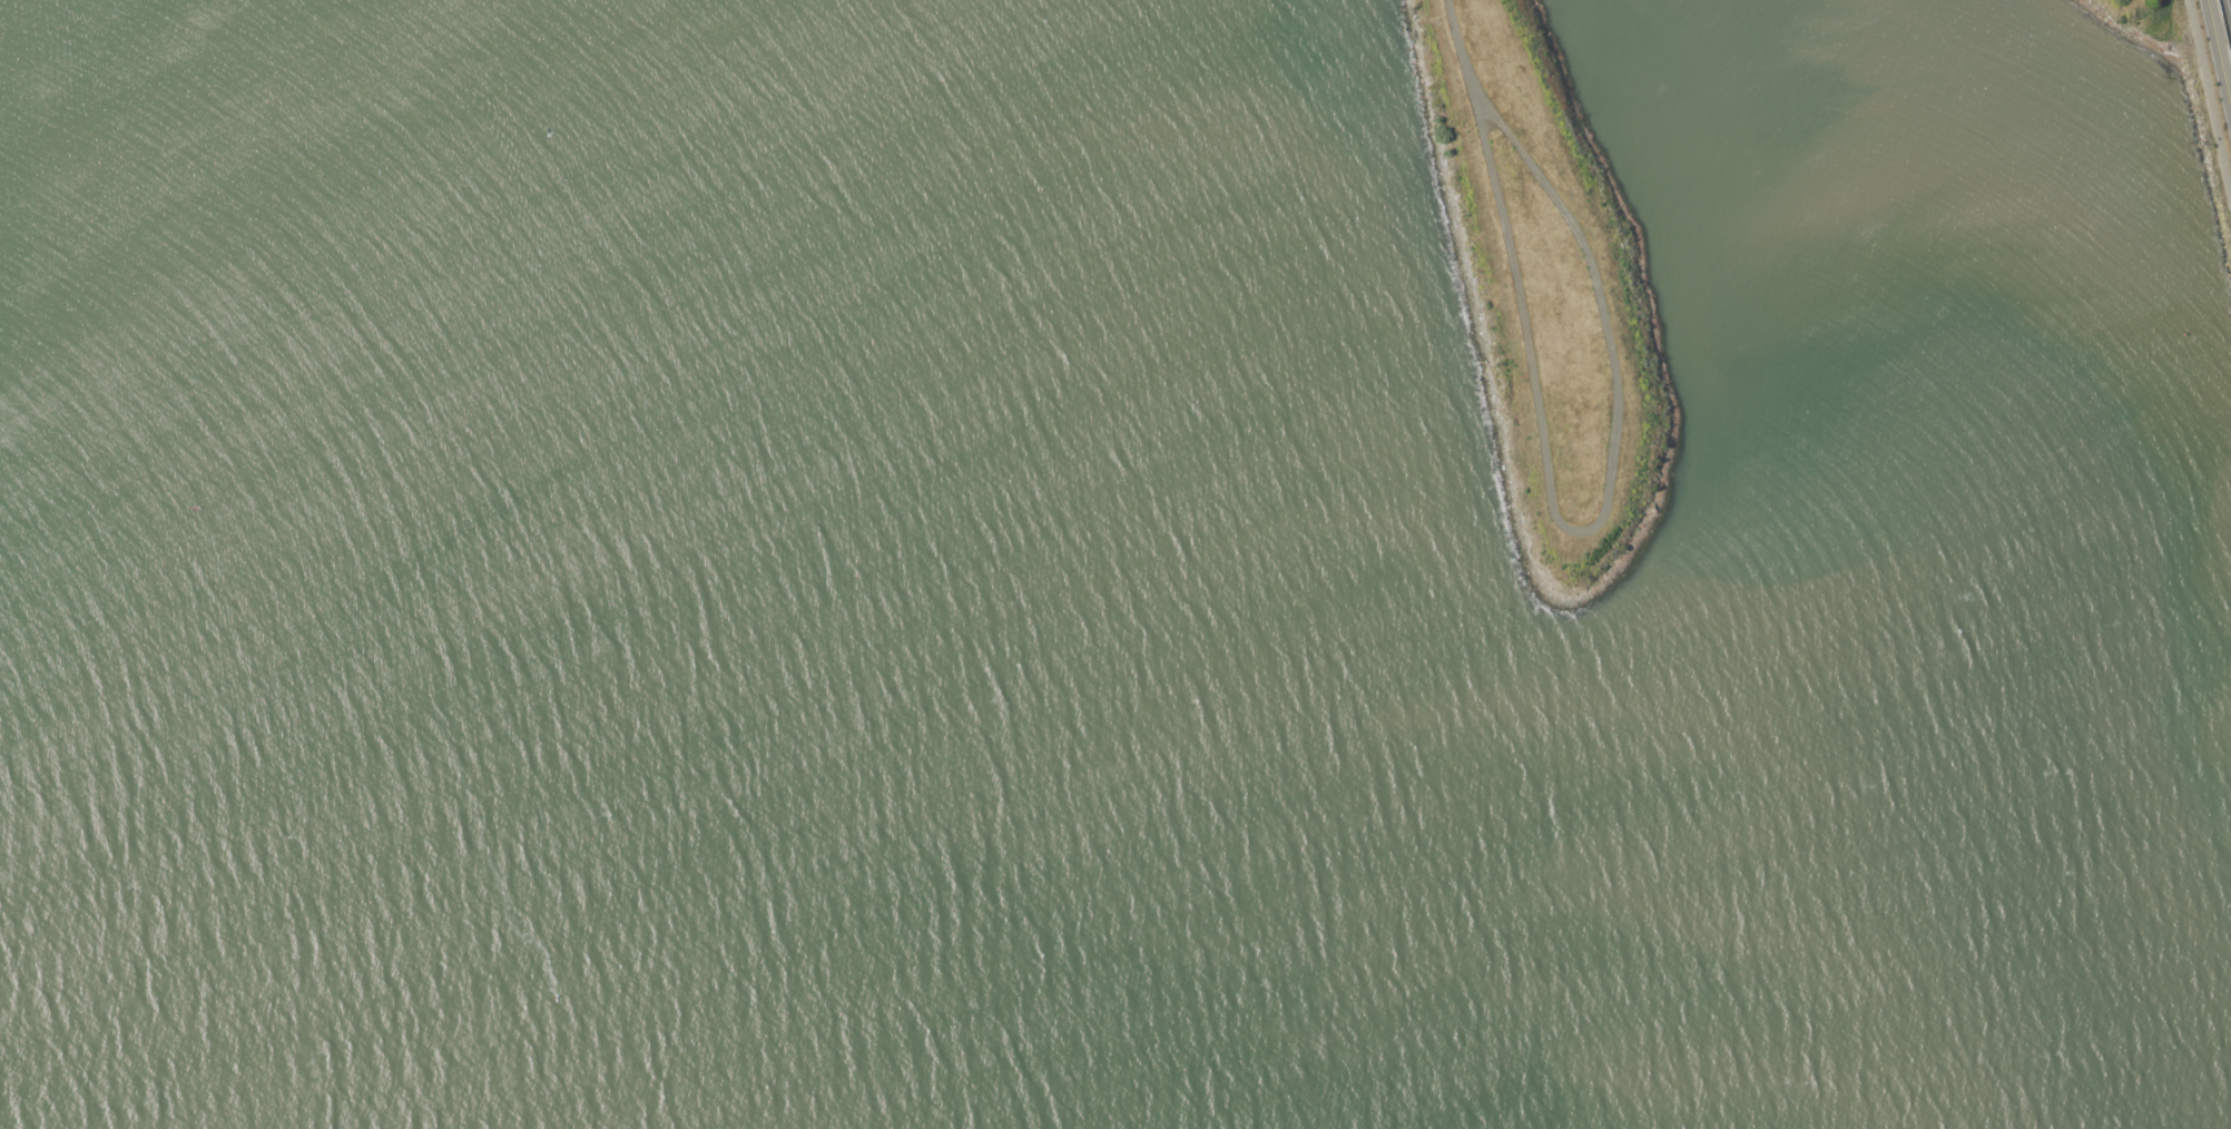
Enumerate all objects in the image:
park: (2158, 26)
road: (1455, 40)
road: (2219, 55)
road: (2207, 106)
park: (2211, 149)
park: (1546, 293)
road: (1593, 524)

